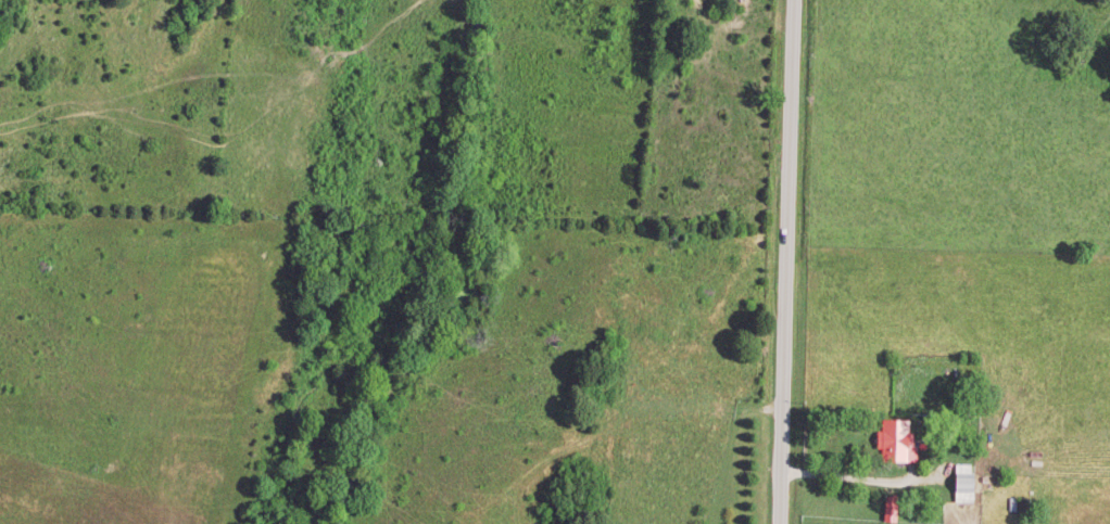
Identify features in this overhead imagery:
road: (789, 261)
building: (900, 445)
building: (967, 487)
building: (893, 511)

